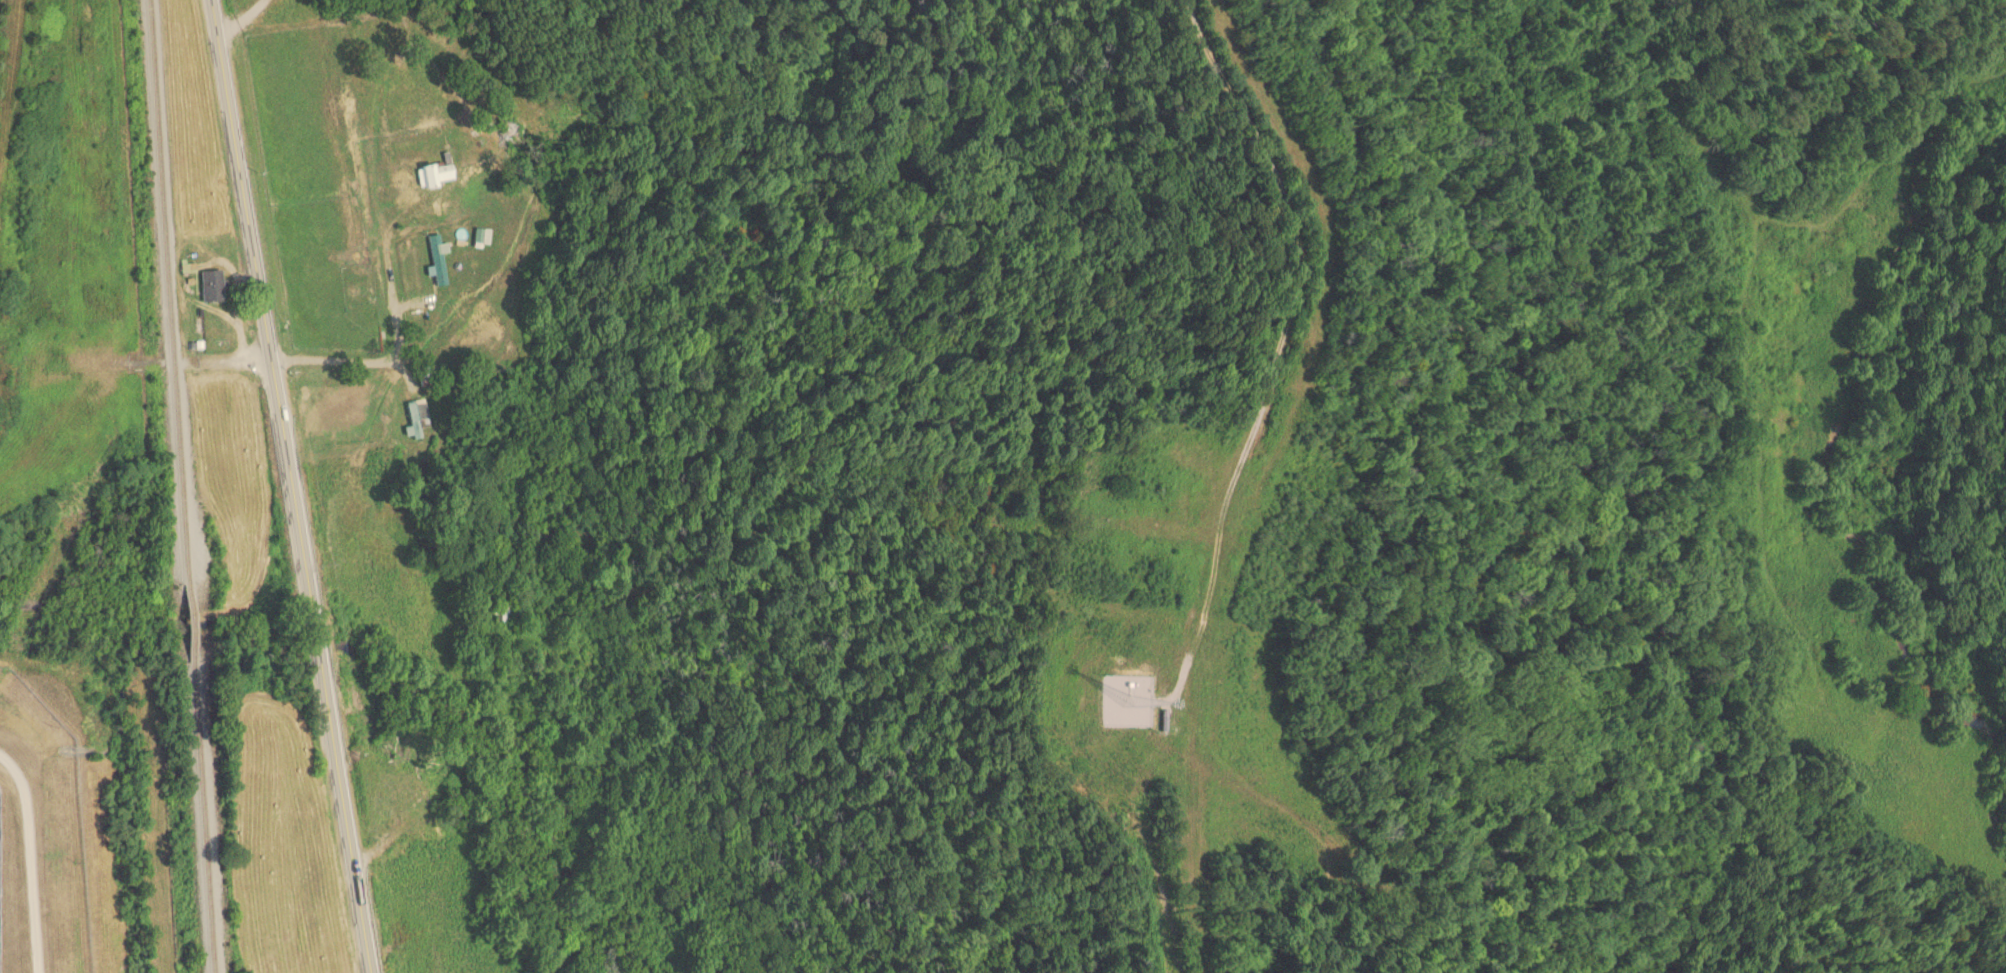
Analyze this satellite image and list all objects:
road: (241, 19)
building: (389, 39)
building: (453, 115)
building: (498, 130)
building: (435, 175)
building: (438, 259)
building: (213, 286)
road: (399, 345)
road: (1277, 358)
road: (236, 365)
building: (418, 416)
railway: (175, 486)
road: (292, 486)
building: (505, 610)
aquafarm: (39, 838)
road: (30, 859)

